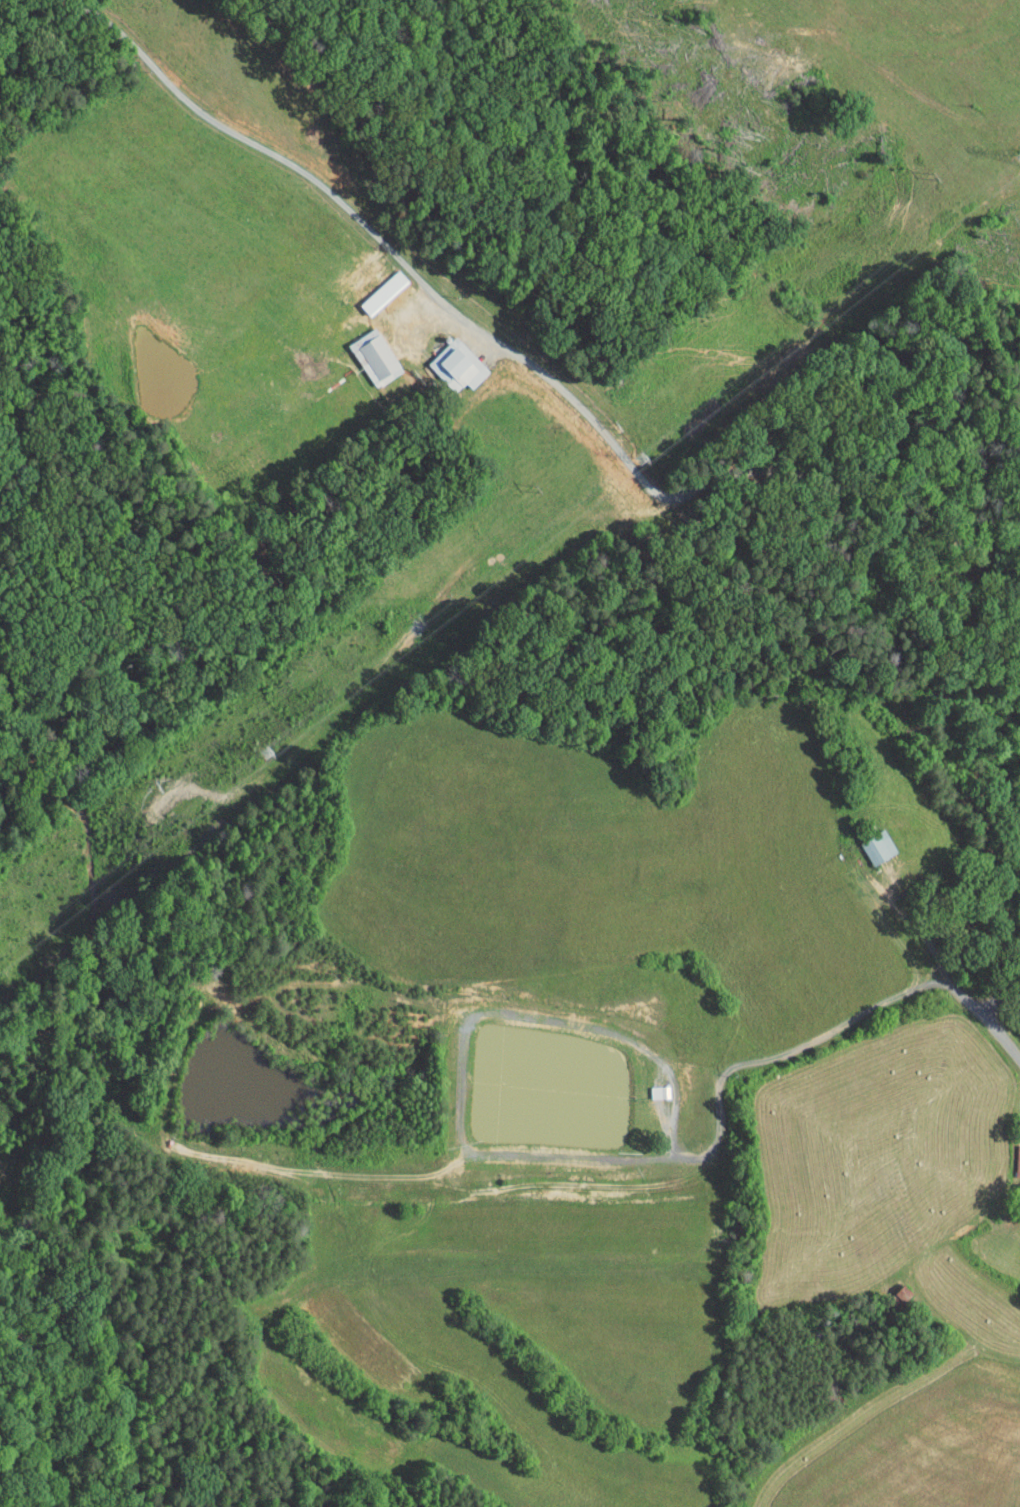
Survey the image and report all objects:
building: (366, 351)
road: (523, 358)
building: (448, 360)
power tower: (644, 461)
power tower: (271, 754)
building: (869, 840)
road: (824, 1034)
building: (649, 1085)
building: (1013, 1154)

